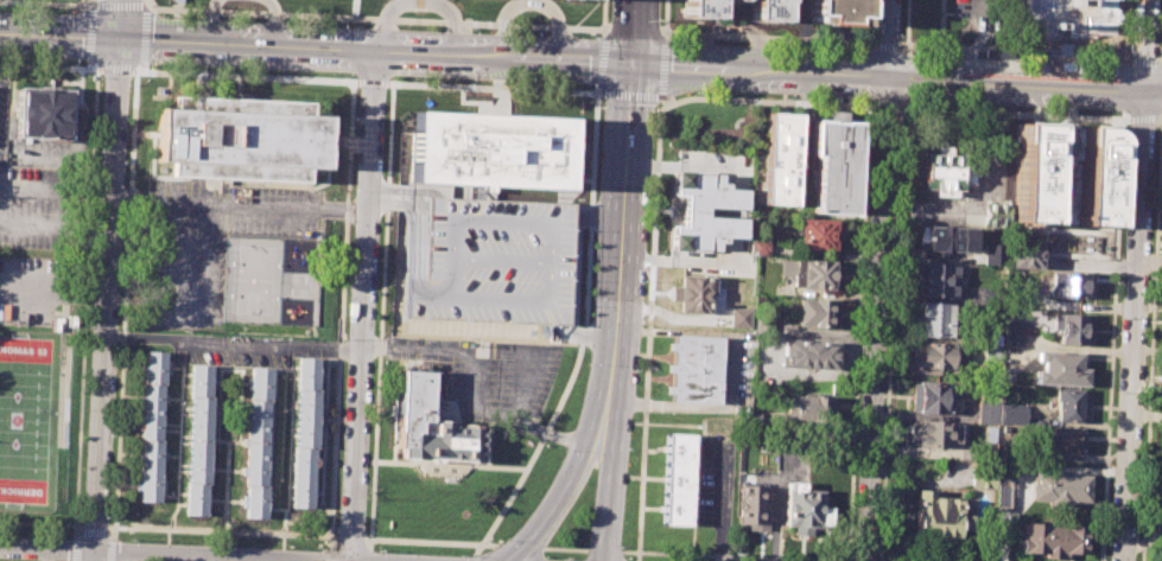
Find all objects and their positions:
road: (147, 1)
road: (418, 1)
road: (43, 2)
road: (89, 2)
building: (732, 2)
road: (529, 5)
road: (993, 5)
road: (119, 6)
street lamp: (76, 8)
building: (699, 8)
building: (766, 9)
building: (836, 11)
parking lot: (986, 12)
street lamp: (203, 15)
road: (604, 15)
road: (666, 17)
road: (373, 18)
parking lot: (1073, 18)
road: (211, 20)
road: (273, 20)
street lamp: (661, 20)
road: (732, 20)
road: (870, 21)
street lamp: (341, 24)
road: (906, 26)
road: (1125, 27)
road: (635, 31)
road: (90, 32)
road: (627, 32)
road: (144, 34)
road: (655, 34)
traffic signals: (116, 38)
road: (769, 38)
street lamp: (900, 38)
road: (1066, 43)
street lamp: (790, 44)
road: (889, 44)
road: (870, 45)
road: (1145, 45)
road: (317, 47)
street lamp: (913, 50)
road: (1016, 50)
road: (1145, 56)
street lamp: (1043, 57)
road: (1160, 57)
road: (1124, 59)
road: (601, 62)
road: (88, 63)
traffic signals: (634, 63)
road: (50, 65)
road: (116, 66)
road: (138, 68)
street lamp: (198, 68)
road: (663, 68)
street lamp: (338, 75)
road: (870, 75)
road: (249, 76)
road: (903, 76)
road: (897, 77)
road: (372, 81)
street lamp: (588, 85)
road: (1124, 87)
street lamp: (356, 89)
road: (631, 96)
street lamp: (788, 97)
road: (767, 101)
street lamp: (909, 102)
road: (883, 107)
street lamp: (599, 108)
street lamp: (1044, 108)
street lamp: (655, 110)
road: (1012, 113)
building: (47, 115)
road: (1142, 119)
road: (1157, 120)
park: (705, 129)
street lamp: (1156, 129)
building: (241, 139)
building: (489, 149)
road: (627, 158)
building: (780, 158)
building: (834, 165)
building: (940, 170)
building: (1065, 173)
road: (407, 187)
road: (43, 189)
street lamp: (598, 196)
street lamp: (649, 199)
parking lot: (38, 208)
road: (239, 208)
building: (703, 211)
building: (995, 215)
road: (27, 223)
road: (82, 227)
road: (591, 230)
building: (817, 235)
parking lot: (215, 241)
building: (946, 241)
building: (758, 247)
building: (992, 254)
building: (1026, 254)
building: (726, 257)
road: (1149, 260)
building: (485, 269)
parking garage: (485, 269)
building: (815, 273)
road: (104, 275)
park: (252, 280)
road: (636, 280)
road: (877, 280)
street lamp: (647, 281)
building: (938, 281)
building: (1072, 283)
parking lot: (30, 291)
road: (53, 292)
building: (694, 294)
street lamp: (593, 298)
road: (84, 301)
road: (363, 305)
road: (381, 311)
building: (818, 312)
road: (185, 313)
road: (342, 315)
building: (739, 318)
building: (933, 320)
road: (1134, 326)
building: (1072, 327)
road: (649, 330)
road: (890, 330)
road: (859, 331)
building: (1015, 333)
road: (1112, 334)
road: (1151, 336)
road: (233, 342)
building: (696, 346)
building: (993, 346)
road: (513, 352)
building: (808, 355)
building: (934, 358)
street lamp: (589, 364)
building: (1061, 368)
street lamp: (639, 369)
building: (696, 369)
street lamp: (884, 374)
street lamp: (1144, 378)
parking lot: (502, 381)
building: (694, 391)
building: (935, 397)
building: (1068, 406)
road: (120, 407)
road: (469, 407)
road: (620, 408)
building: (809, 408)
building: (988, 409)
building: (1012, 414)
park: (27, 416)
road: (590, 419)
building: (431, 423)
building: (151, 425)
building: (305, 433)
building: (933, 433)
building: (1061, 438)
building: (197, 440)
building: (258, 442)
street lamp: (630, 448)
street lamp: (566, 450)
building: (678, 479)
building: (983, 479)
parking lot: (716, 483)
building: (1004, 487)
building: (1059, 487)
street lamp: (878, 499)
road: (720, 504)
building: (753, 508)
street lamp: (338, 510)
building: (806, 510)
flagpole: (465, 512)
building: (1157, 512)
building: (935, 515)
street lamp: (109, 517)
road: (40, 523)
road: (114, 529)
road: (94, 531)
street lamp: (57, 536)
road: (351, 538)
building: (1053, 538)
street lamp: (508, 540)
street lamp: (132, 541)
road: (431, 542)
road: (521, 546)
street lamp: (622, 546)
road: (74, 548)
street lamp: (317, 548)
road: (566, 548)
road: (112, 549)
street lamp: (375, 550)
road: (604, 550)
road: (148, 554)
street lamp: (461, 555)
road: (91, 556)
road: (331, 556)
road: (709, 556)
road: (471, 557)
street lamp: (564, 557)
road: (207, 559)
road: (234, 560)

